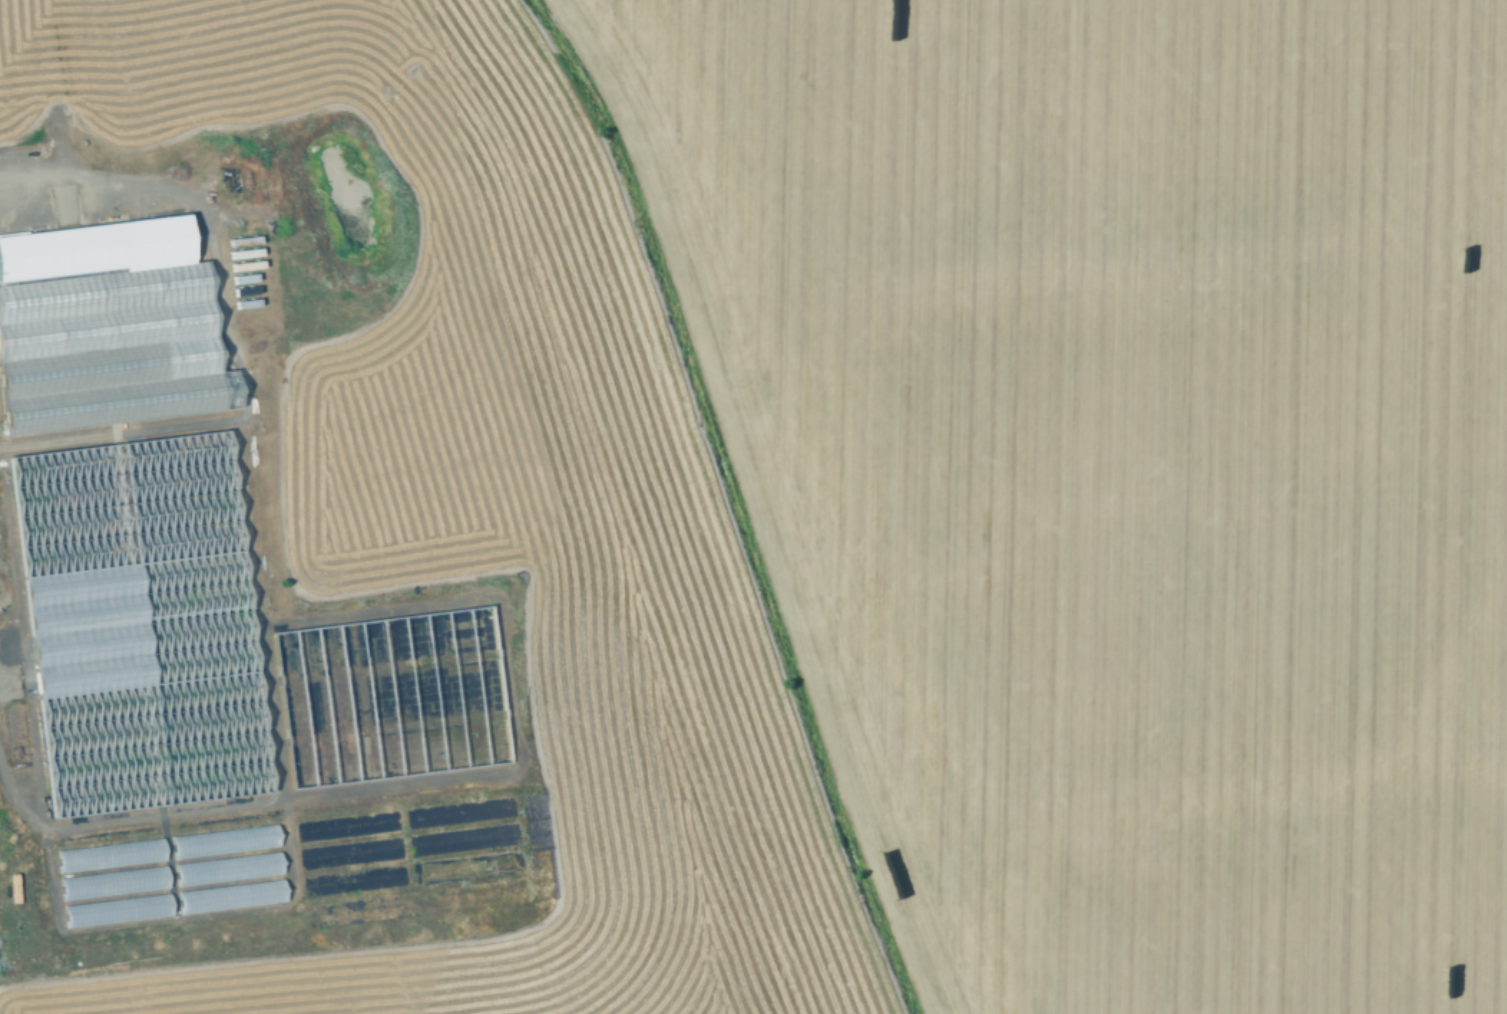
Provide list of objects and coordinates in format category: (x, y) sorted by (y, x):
building: (94, 246)
building: (109, 347)
road: (119, 429)
crop: (753, 507)
road: (429, 602)
building: (136, 623)
building: (387, 695)
road: (278, 762)
building: (221, 838)
building: (108, 851)
building: (225, 865)
building: (111, 880)
building: (228, 892)
building: (114, 906)

